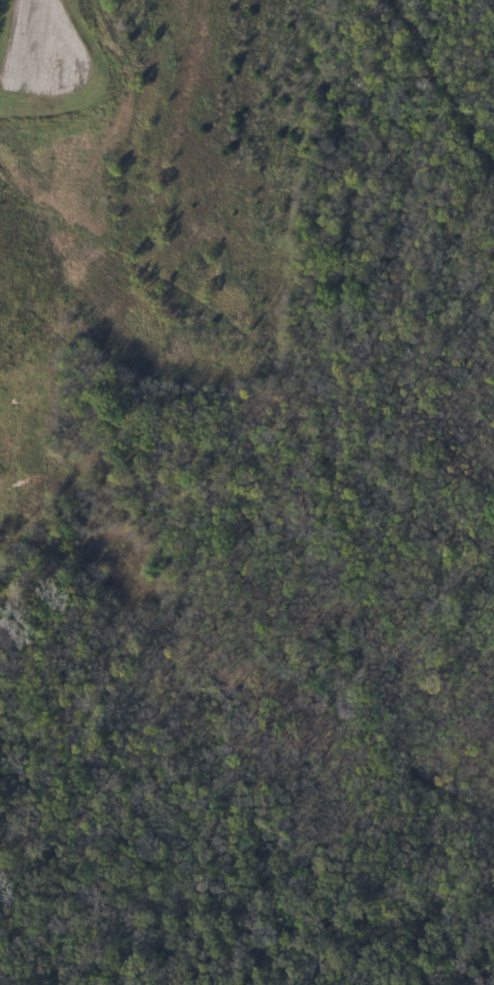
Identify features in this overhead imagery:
airport runway: (24, 41)

